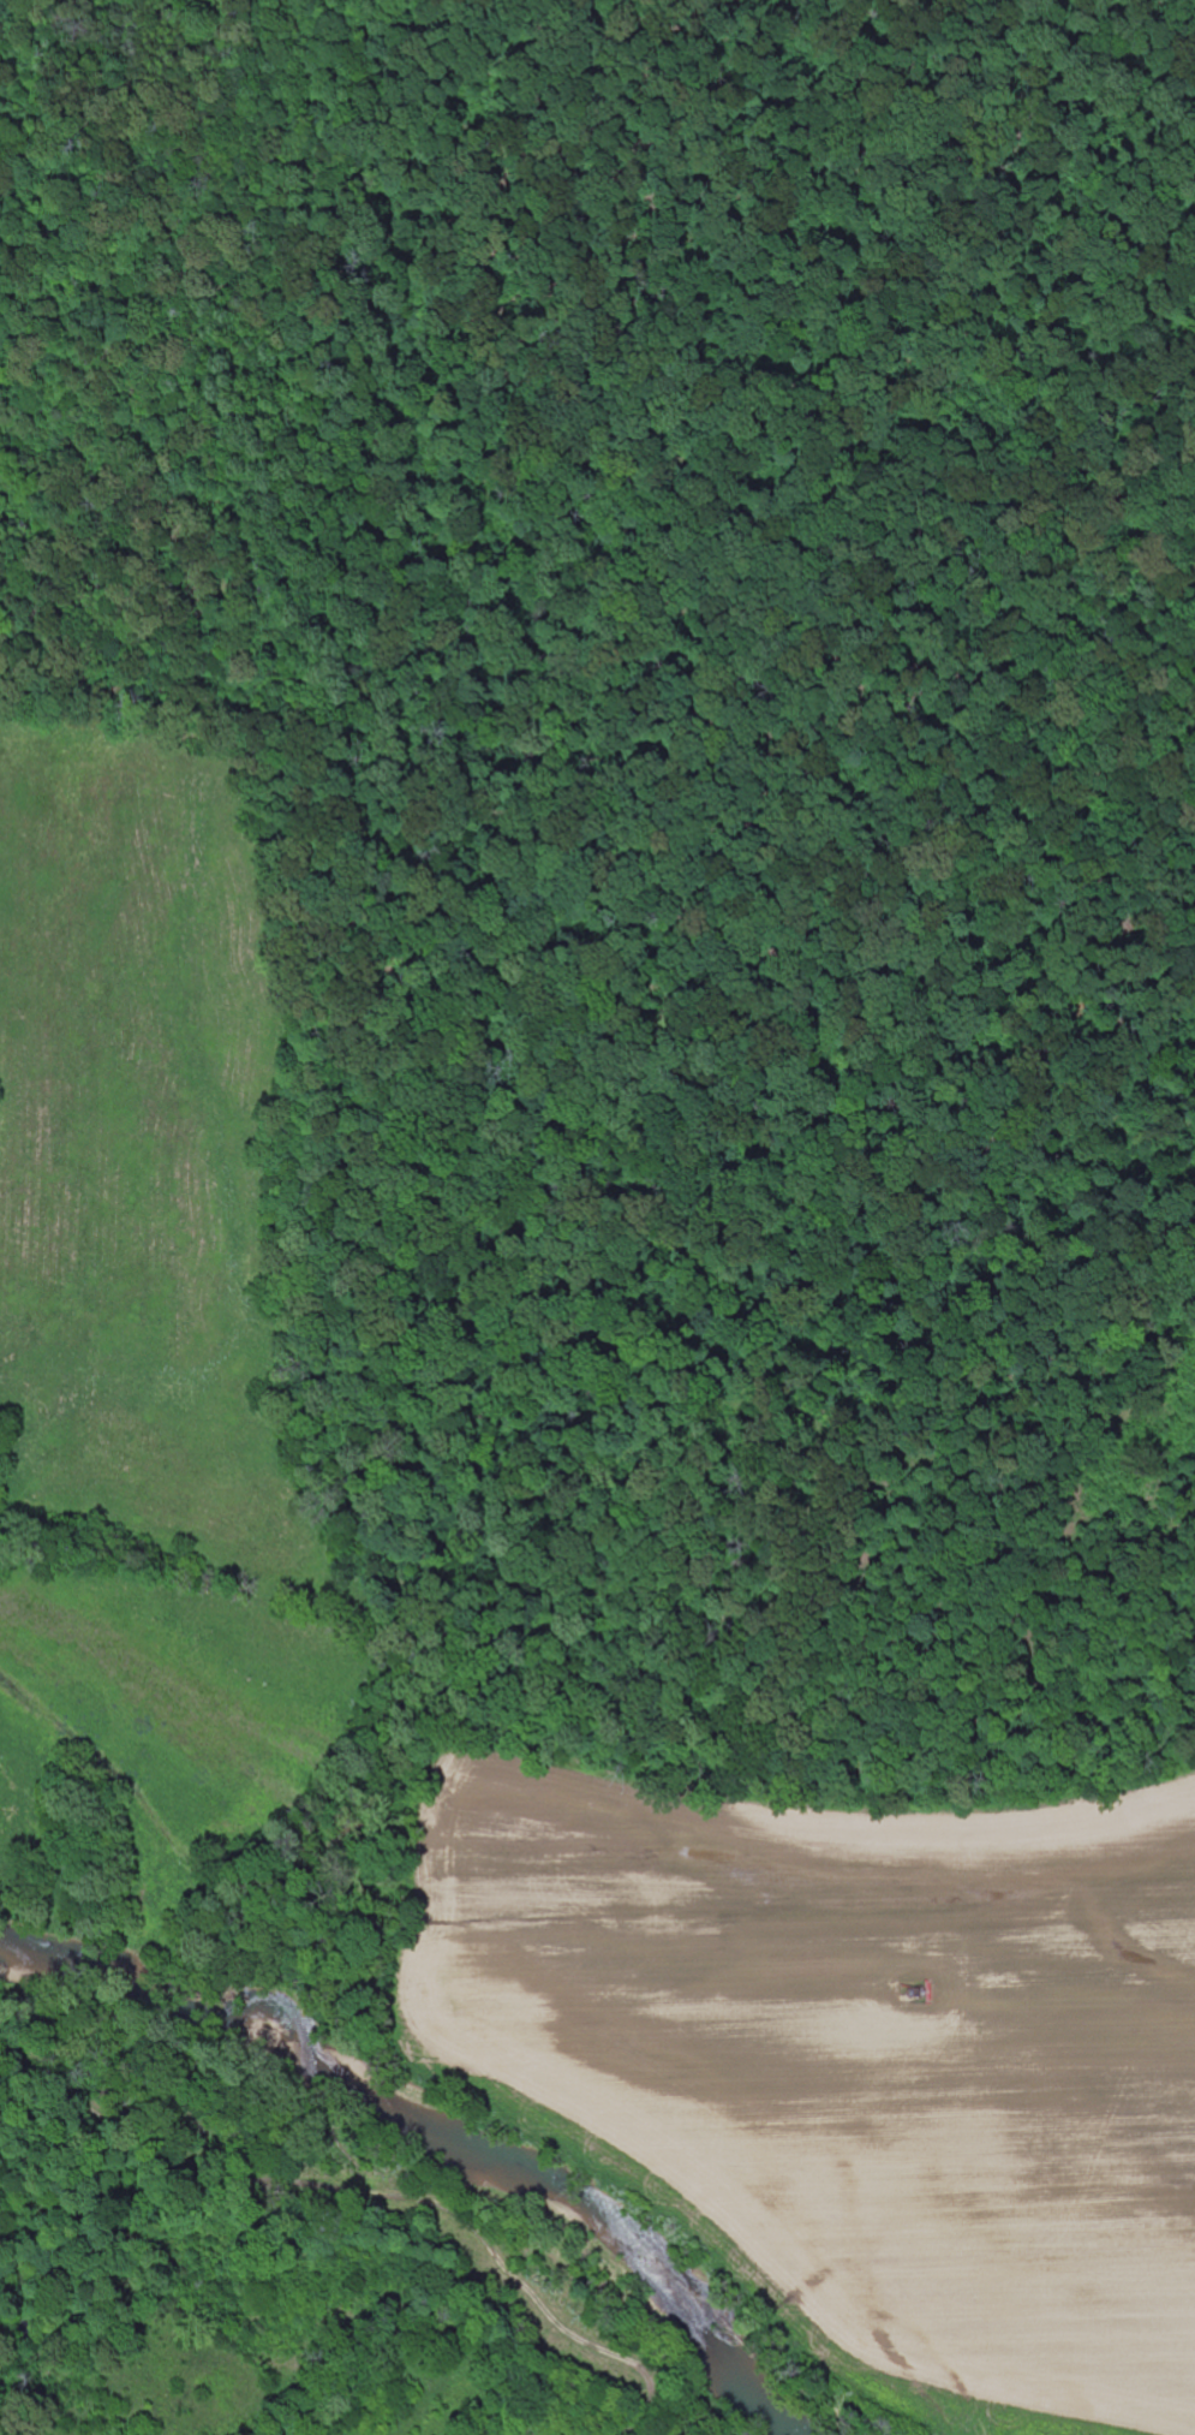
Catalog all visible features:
river: (430, 2133)

